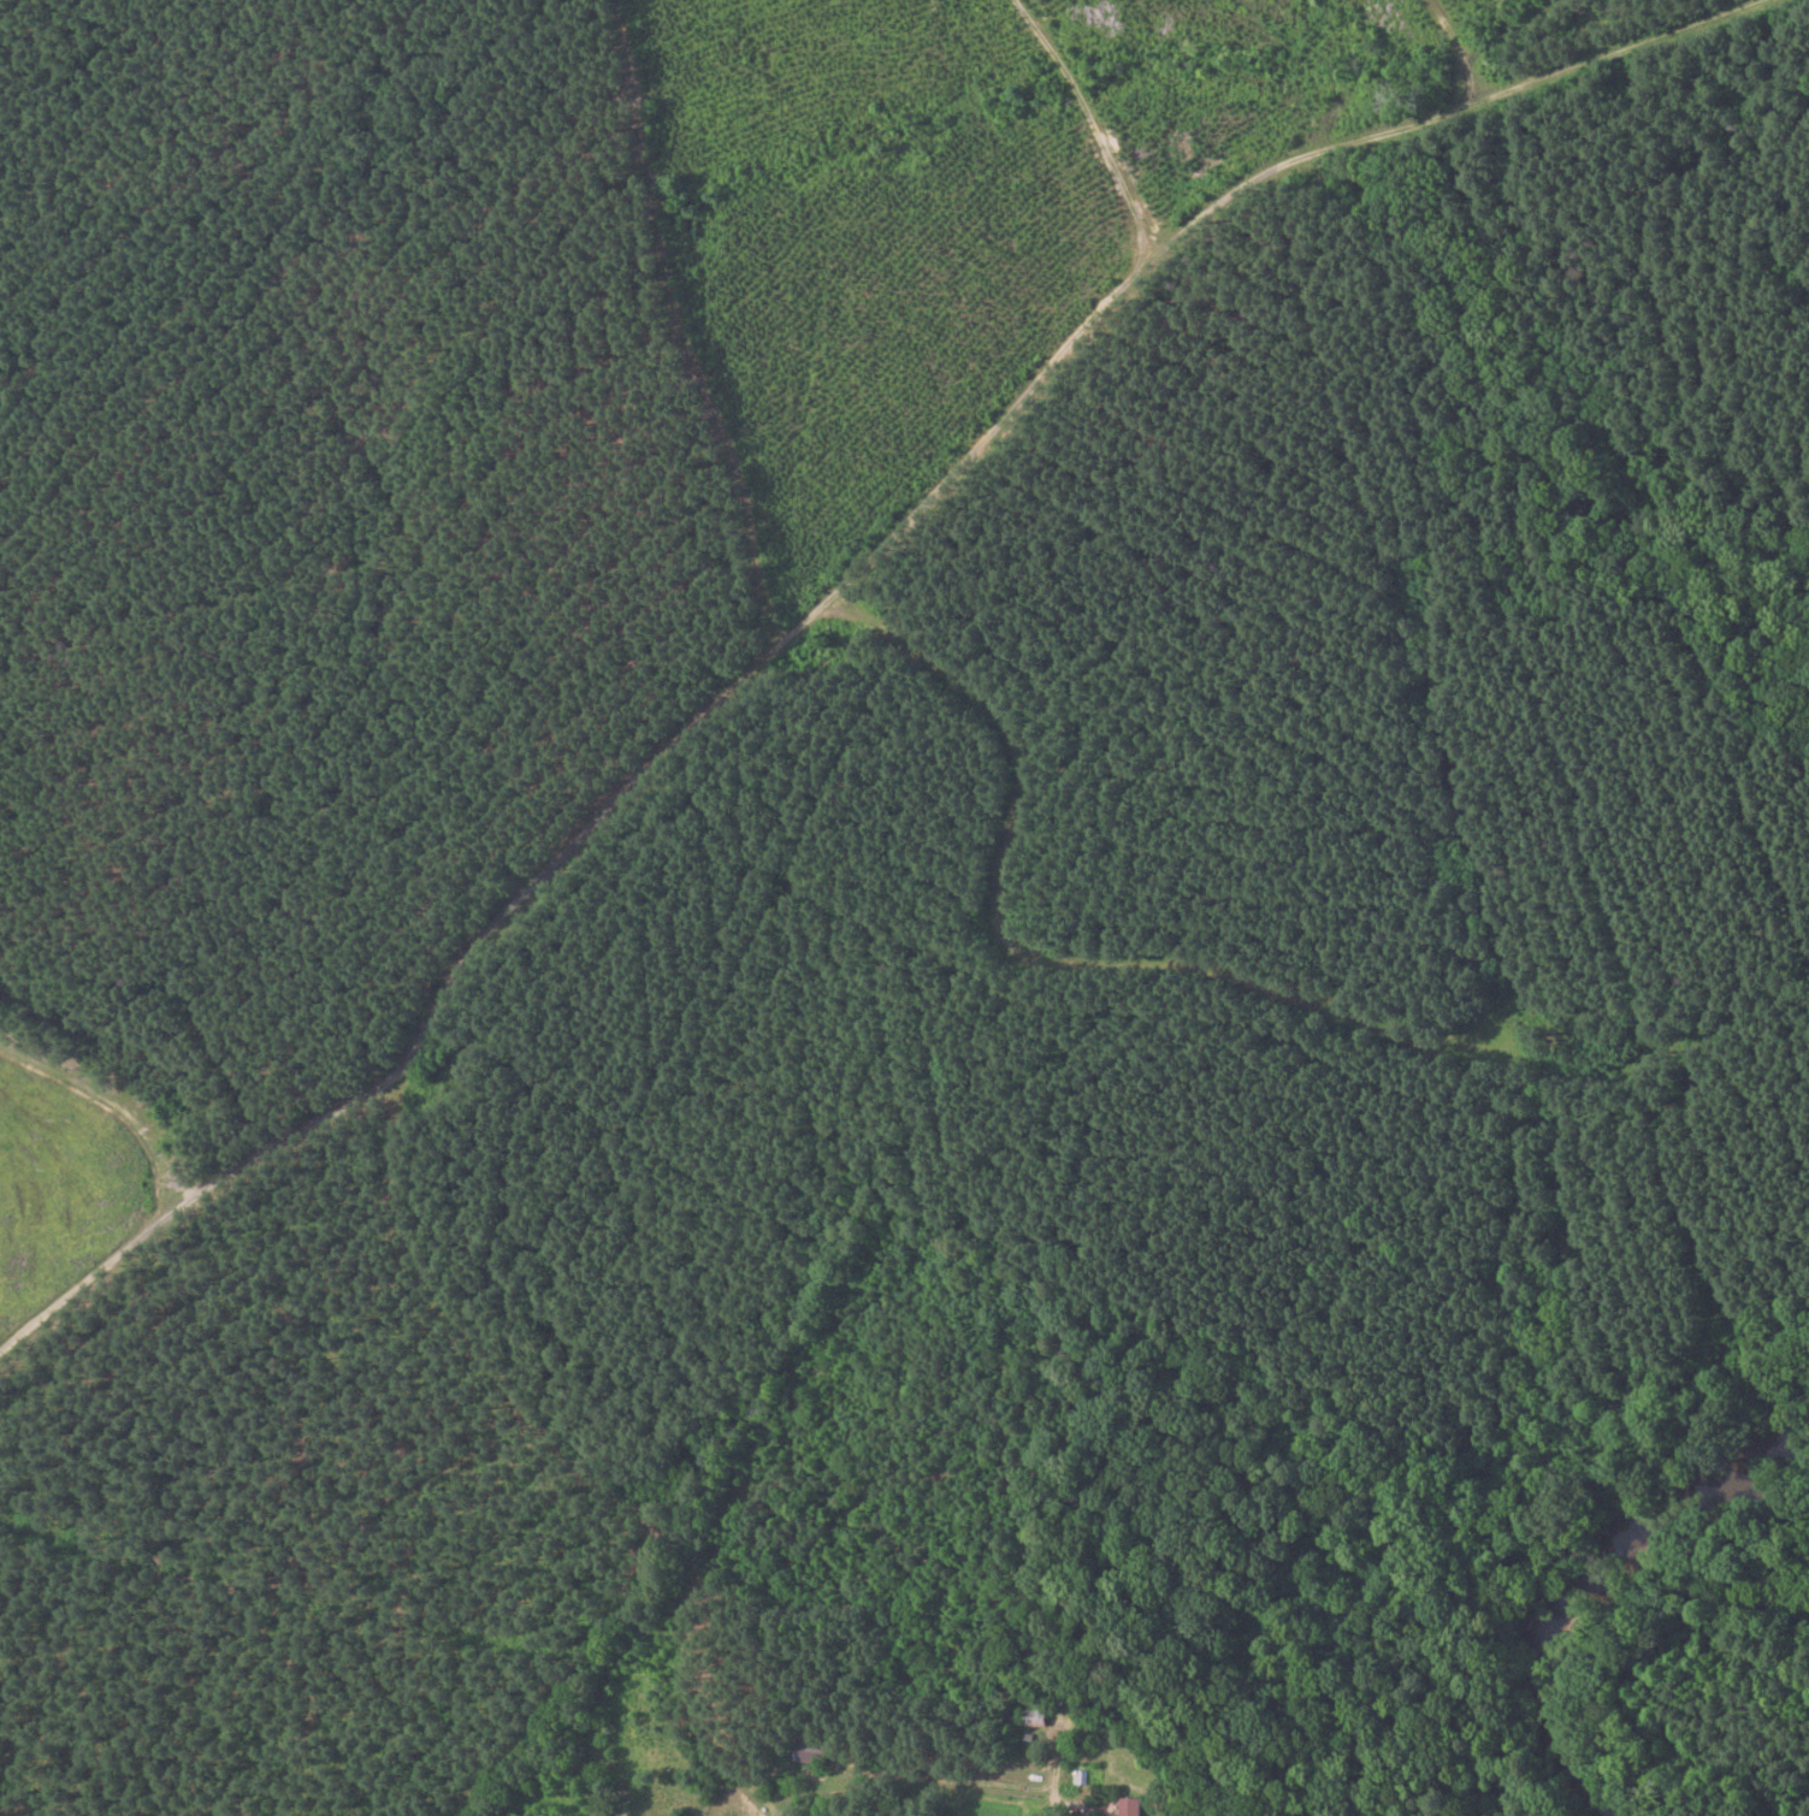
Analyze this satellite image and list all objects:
river: (1583, 1555)
building: (1129, 1808)

